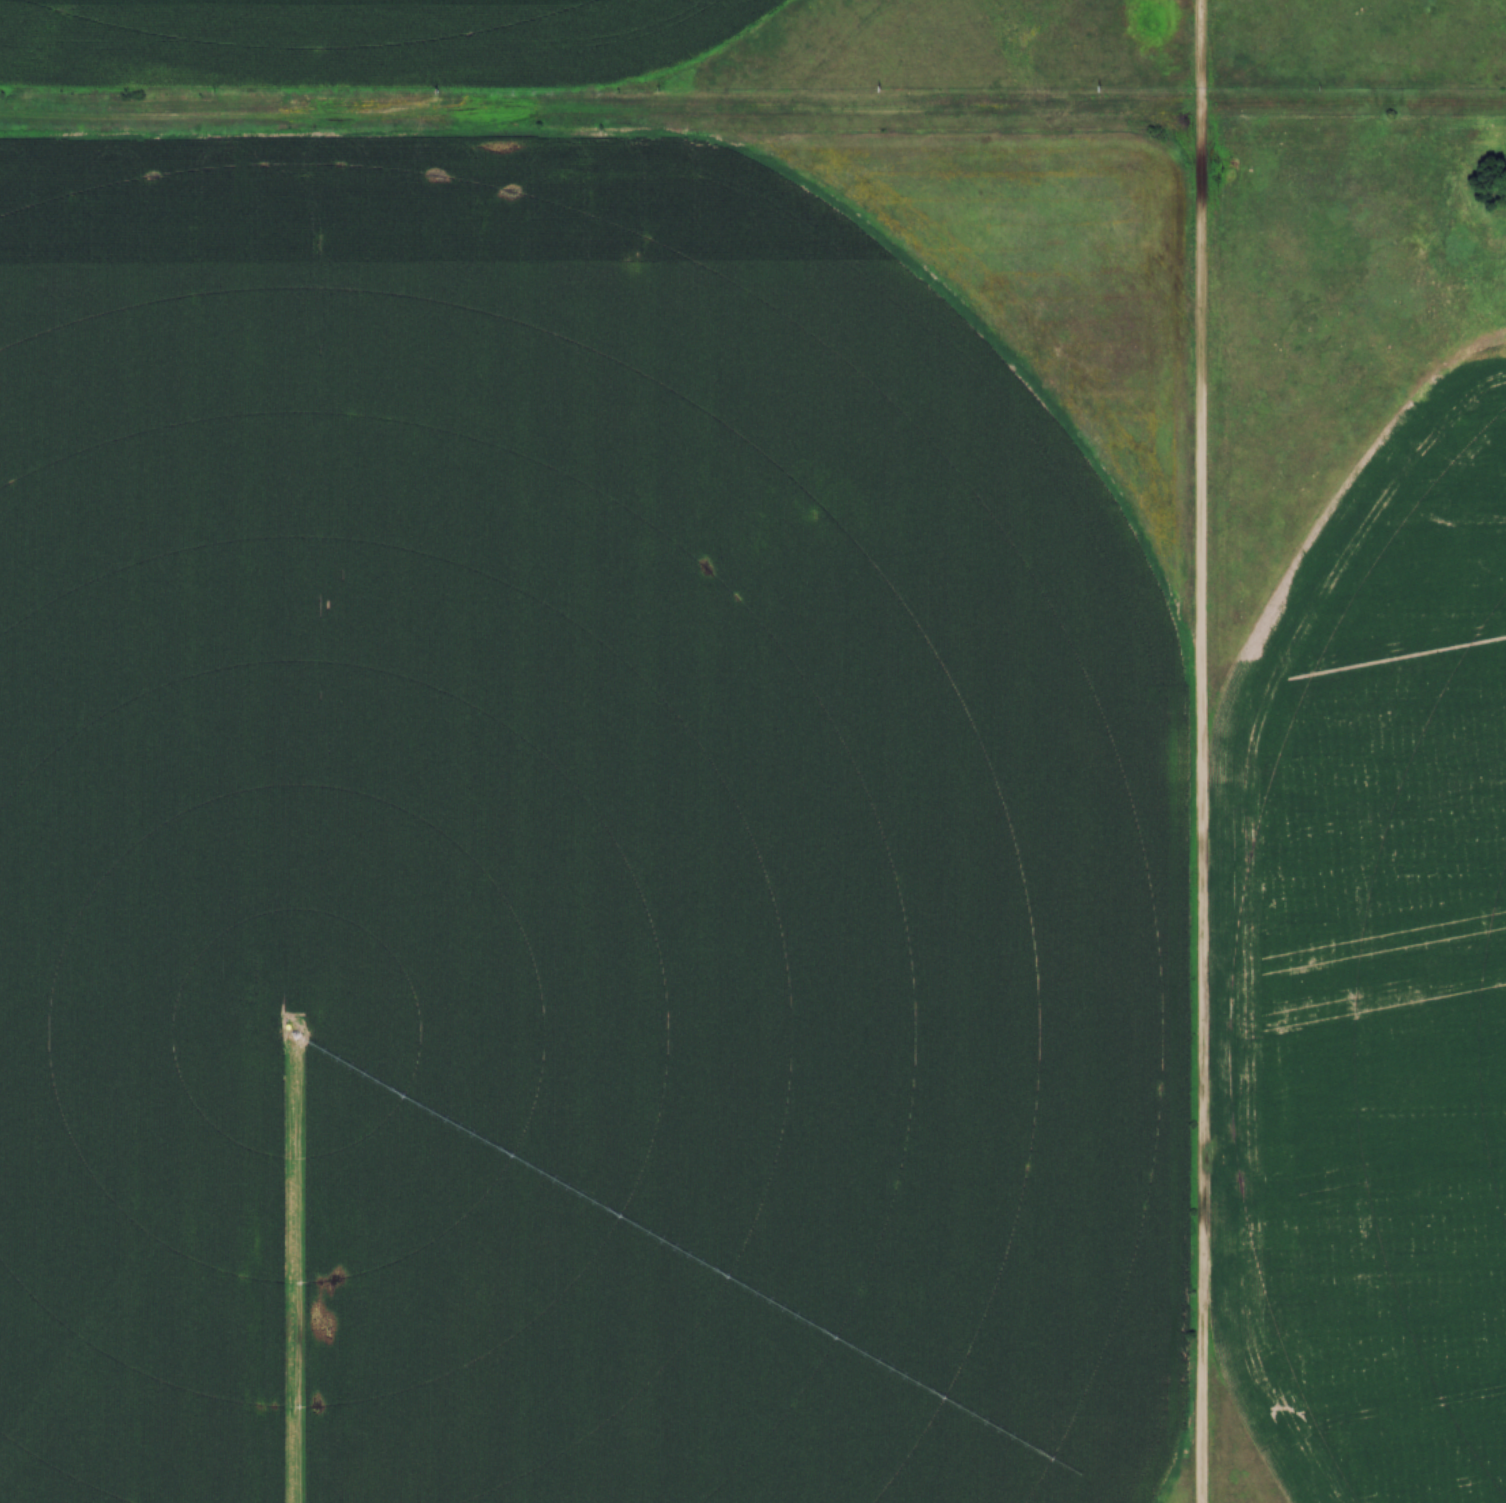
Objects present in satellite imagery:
road: (1200, 55)
road: (600, 117)
road: (1200, 806)

